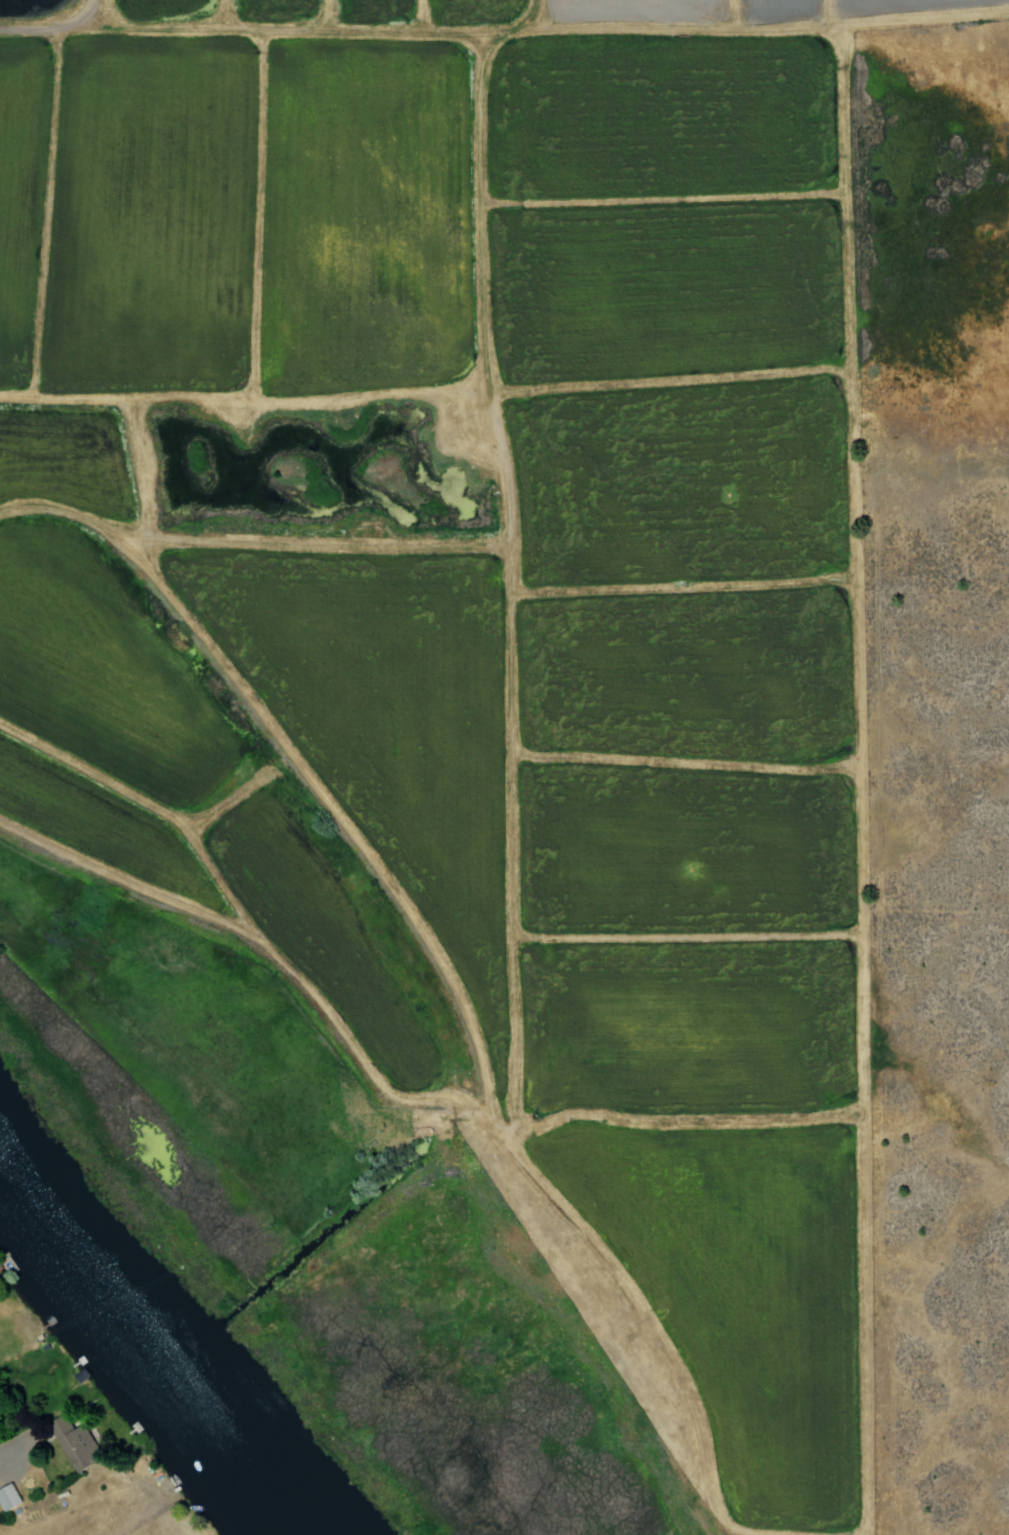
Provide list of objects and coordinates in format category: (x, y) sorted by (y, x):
river: (151, 1358)
building: (71, 1443)
building: (7, 1497)

